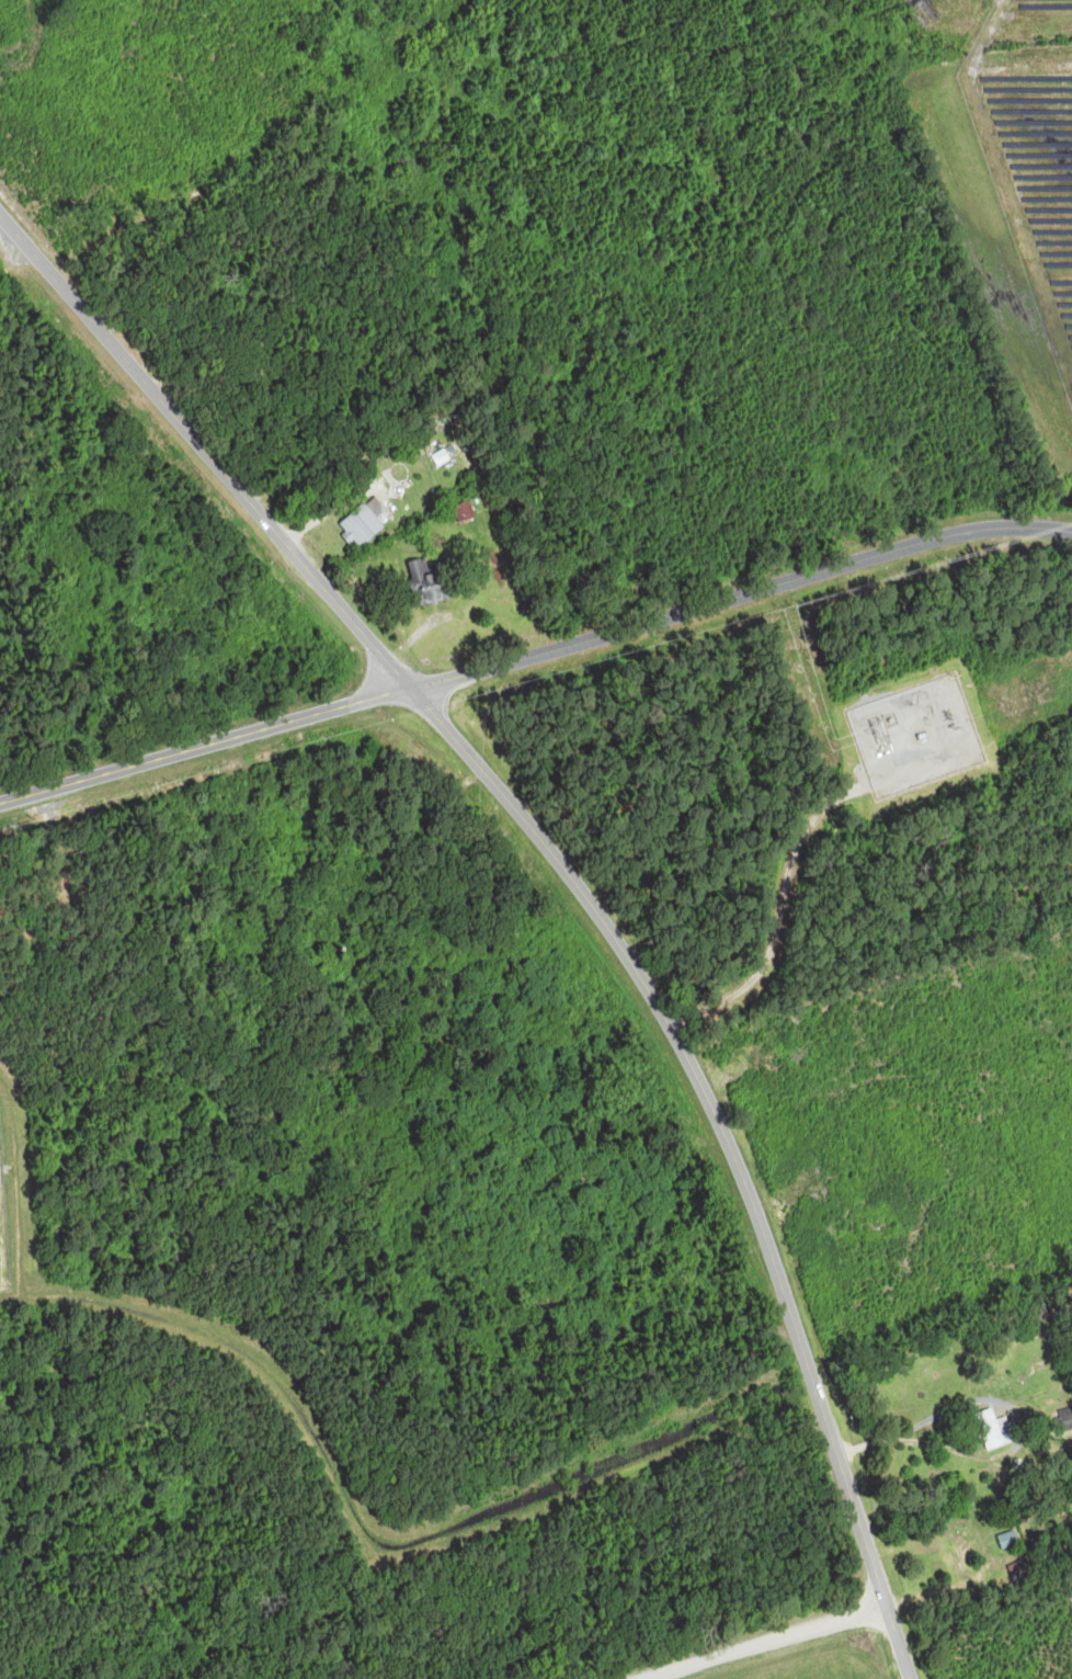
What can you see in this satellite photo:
solar farm: (1030, 147)
building: (446, 456)
building: (368, 522)
building: (433, 581)
road: (534, 656)
power tower: (1035, 693)
power substation: (916, 736)
road: (570, 877)
building: (1068, 1422)
building: (994, 1428)
building: (1011, 1540)
building: (958, 1552)
road: (768, 1643)

